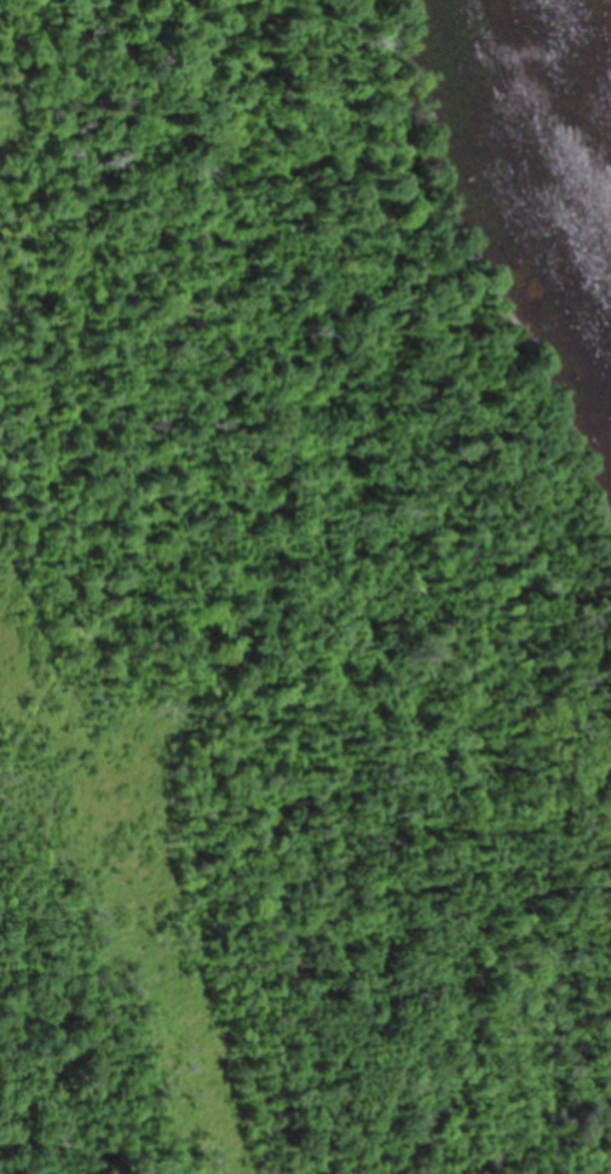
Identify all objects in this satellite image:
park: (305, 586)

